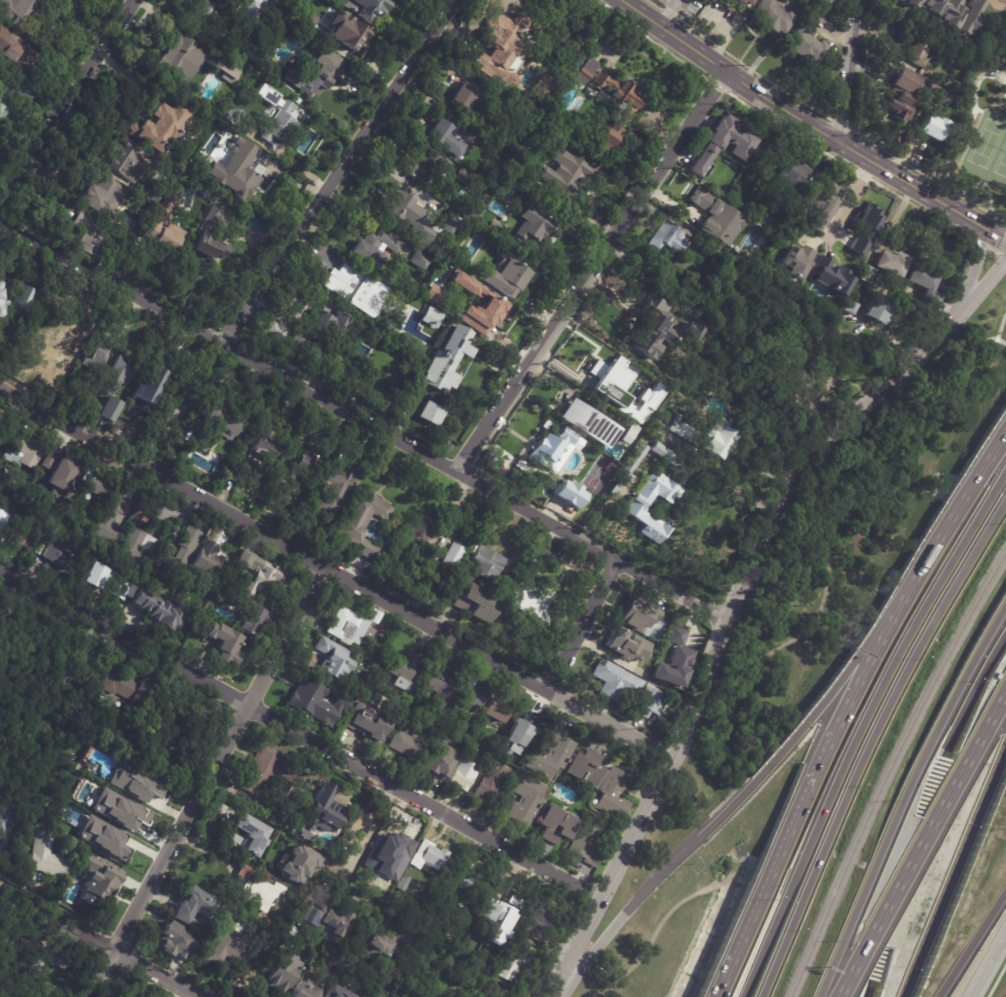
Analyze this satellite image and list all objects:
building: (824, 1)
building: (745, 2)
building: (910, 2)
building: (930, 5)
building: (364, 8)
building: (249, 10)
building: (18, 13)
road: (669, 13)
building: (949, 13)
building: (969, 16)
building: (204, 17)
building: (773, 18)
building: (308, 22)
road: (83, 24)
building: (243, 27)
building: (346, 32)
building: (806, 40)
building: (9, 46)
building: (502, 47)
building: (920, 49)
building: (180, 60)
building: (226, 69)
building: (316, 71)
road: (850, 73)
road: (731, 74)
building: (952, 85)
building: (542, 87)
building: (150, 91)
building: (905, 95)
building: (939, 95)
building: (464, 96)
building: (631, 101)
road: (65, 102)
building: (3, 104)
building: (232, 116)
building: (277, 118)
building: (161, 124)
park: (981, 125)
building: (933, 128)
building: (548, 136)
building: (449, 137)
road: (955, 144)
building: (741, 146)
park: (988, 152)
building: (125, 162)
building: (423, 167)
building: (237, 171)
road: (341, 171)
building: (565, 174)
building: (464, 176)
building: (794, 178)
building: (518, 192)
road: (923, 194)
building: (105, 196)
building: (151, 196)
road: (847, 201)
building: (823, 206)
building: (412, 219)
building: (716, 219)
building: (451, 226)
building: (164, 228)
building: (865, 228)
building: (492, 230)
building: (532, 230)
building: (90, 234)
building: (208, 237)
building: (666, 243)
building: (707, 246)
building: (374, 250)
building: (421, 262)
building: (797, 262)
road: (976, 264)
building: (893, 265)
road: (592, 269)
building: (868, 275)
building: (0, 277)
building: (833, 279)
building: (508, 282)
building: (925, 288)
building: (355, 290)
building: (19, 298)
building: (486, 305)
building: (850, 307)
building: (879, 310)
building: (431, 318)
building: (328, 326)
building: (654, 330)
building: (275, 332)
building: (693, 335)
building: (68, 337)
road: (1000, 346)
building: (97, 350)
building: (321, 354)
building: (445, 363)
building: (802, 363)
building: (120, 369)
building: (156, 379)
building: (604, 379)
building: (89, 389)
building: (179, 390)
building: (654, 396)
building: (166, 404)
building: (108, 409)
building: (430, 416)
road: (366, 418)
building: (223, 420)
building: (592, 423)
building: (2, 428)
building: (625, 436)
building: (706, 439)
building: (203, 441)
building: (264, 448)
building: (23, 450)
building: (553, 451)
building: (665, 456)
building: (173, 460)
building: (634, 462)
building: (304, 466)
building: (261, 472)
building: (58, 473)
building: (236, 476)
building: (13, 479)
building: (278, 488)
building: (615, 488)
building: (335, 490)
building: (569, 493)
building: (104, 499)
building: (636, 508)
building: (309, 515)
building: (3, 518)
building: (363, 526)
building: (421, 529)
road: (946, 529)
road: (835, 532)
building: (23, 535)
building: (133, 548)
building: (62, 551)
building: (453, 557)
building: (177, 558)
building: (207, 560)
building: (487, 566)
building: (535, 567)
road: (339, 572)
building: (257, 574)
building: (105, 581)
building: (506, 591)
road: (739, 600)
building: (475, 601)
building: (533, 604)
building: (159, 610)
building: (638, 615)
building: (249, 621)
road: (583, 624)
building: (353, 625)
building: (383, 631)
road: (912, 631)
building: (499, 632)
building: (1, 633)
building: (677, 636)
building: (222, 643)
building: (627, 645)
building: (332, 659)
building: (674, 667)
building: (403, 671)
building: (65, 672)
road: (861, 678)
building: (615, 681)
building: (441, 689)
building: (130, 690)
road: (972, 693)
building: (473, 696)
building: (312, 702)
building: (649, 703)
building: (497, 712)
building: (460, 714)
building: (367, 722)
road: (301, 733)
building: (517, 738)
road: (871, 742)
building: (407, 744)
building: (487, 744)
building: (471, 748)
building: (551, 752)
building: (440, 761)
building: (154, 764)
building: (586, 769)
railway: (889, 769)
building: (269, 771)
building: (462, 776)
road: (205, 781)
building: (309, 783)
building: (489, 784)
building: (107, 787)
building: (616, 793)
road: (905, 794)
building: (145, 797)
building: (522, 801)
building: (324, 807)
building: (119, 810)
road: (725, 811)
building: (252, 832)
building: (579, 835)
building: (104, 838)
building: (7, 839)
road: (922, 843)
building: (396, 844)
building: (47, 855)
building: (428, 855)
road: (351, 859)
building: (299, 863)
road: (736, 864)
road: (774, 864)
building: (370, 866)
road: (953, 870)
building: (104, 877)
road: (725, 881)
building: (403, 882)
building: (466, 882)
building: (253, 890)
road: (787, 896)
building: (506, 900)
building: (189, 901)
building: (452, 915)
building: (543, 917)
building: (325, 918)
building: (497, 920)
building: (12, 921)
road: (654, 933)
building: (176, 940)
road: (102, 941)
building: (393, 942)
road: (972, 943)
building: (227, 945)
building: (58, 958)
building: (346, 961)
building: (516, 962)
road: (987, 962)
building: (280, 972)
building: (304, 986)
road: (871, 992)
building: (333, 993)
building: (127, 995)
building: (121, 996)
building: (416, 996)
building: (482, 996)

